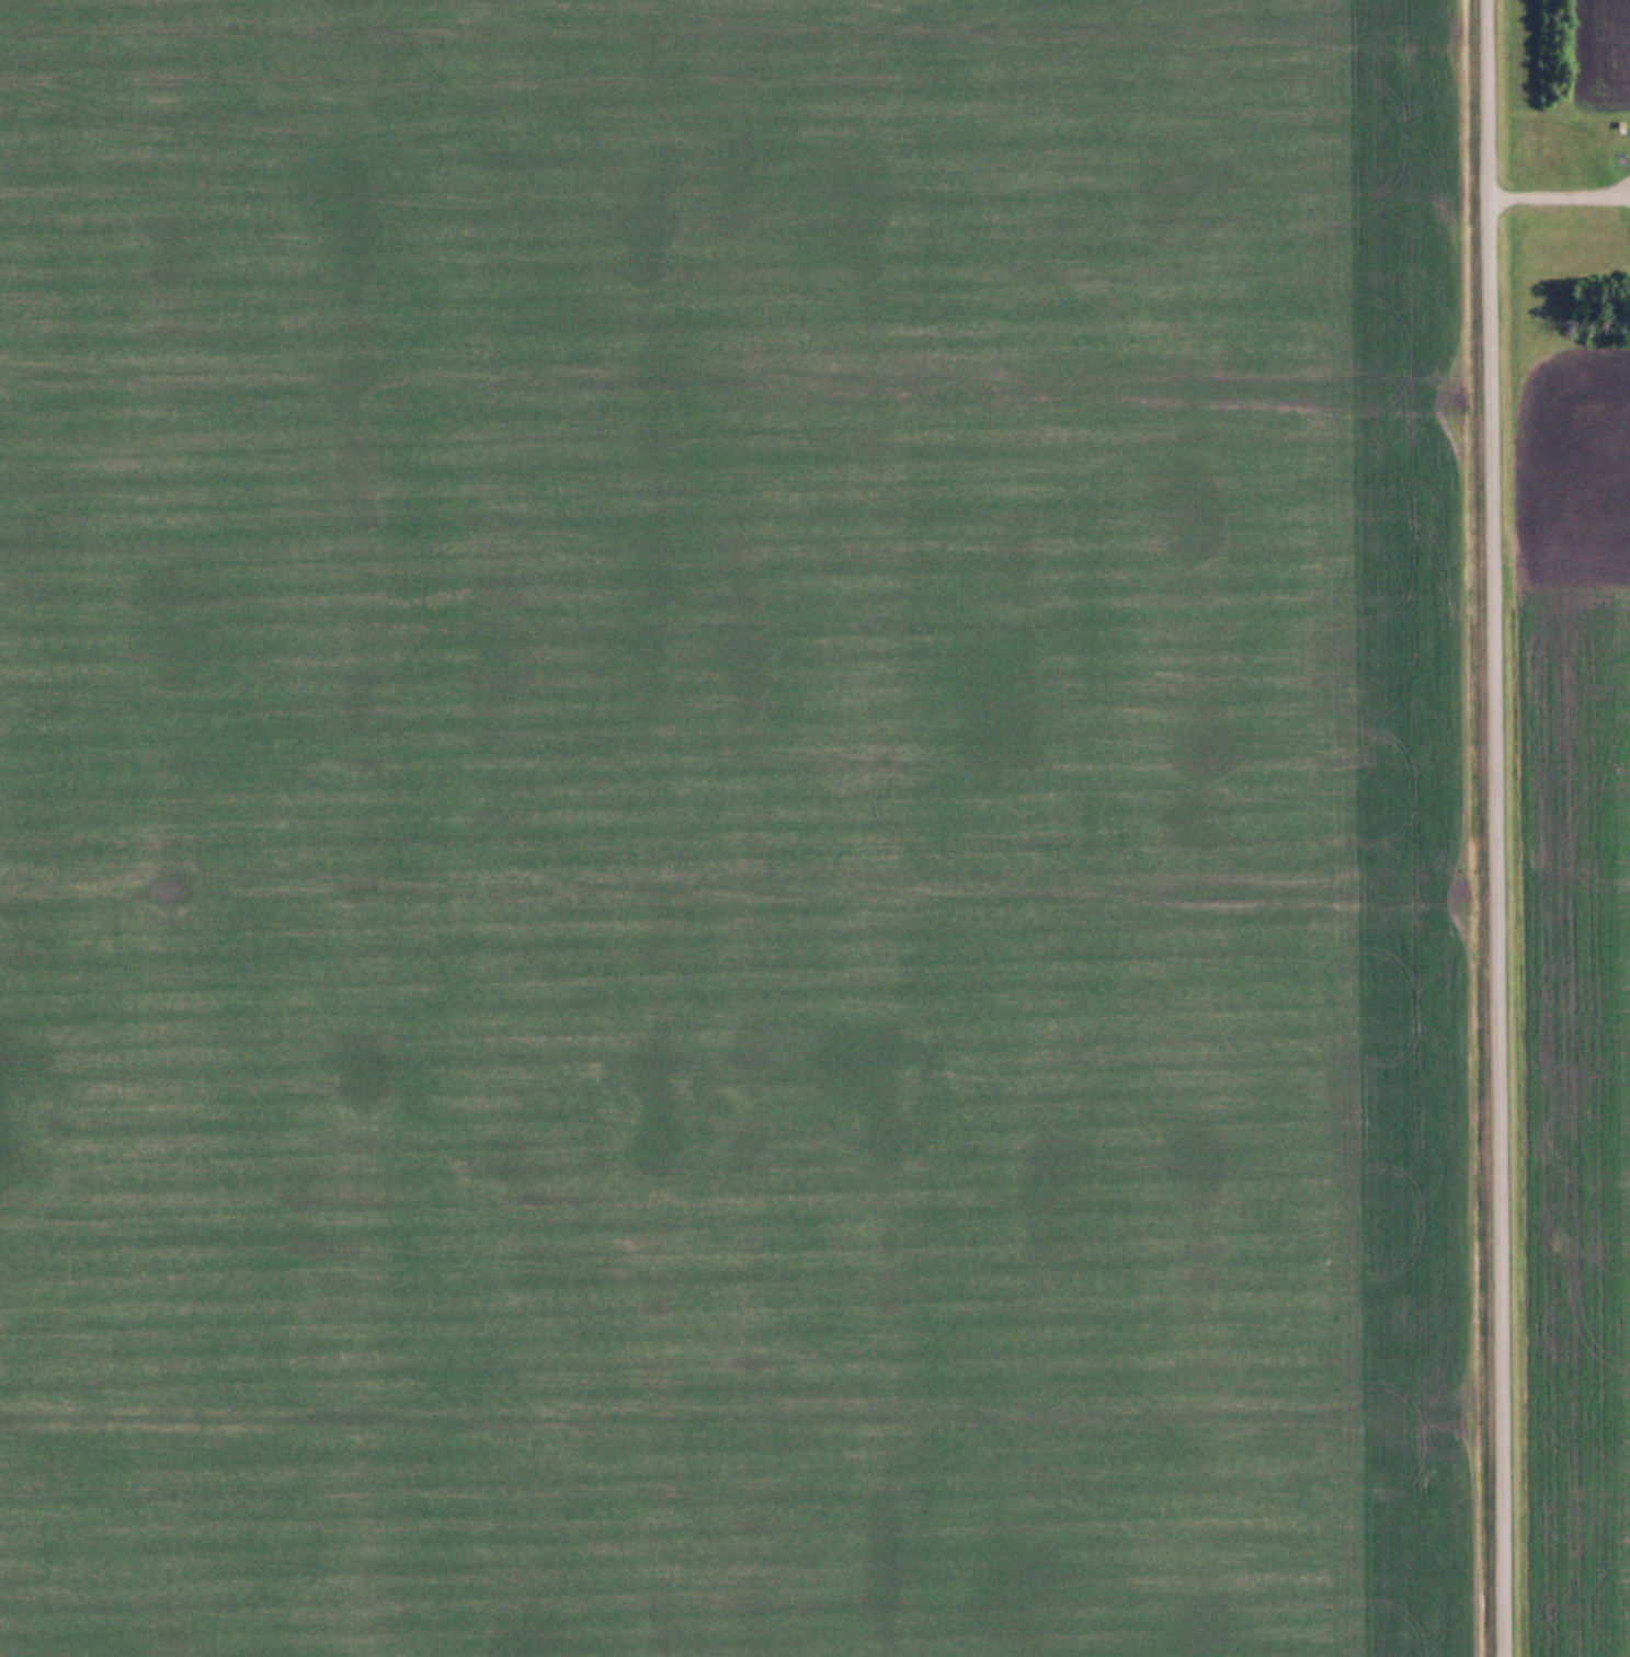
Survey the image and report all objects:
crop: (1608, 55)
road: (1560, 193)
road: (1500, 827)
crop: (737, 830)
crop: (1577, 994)

